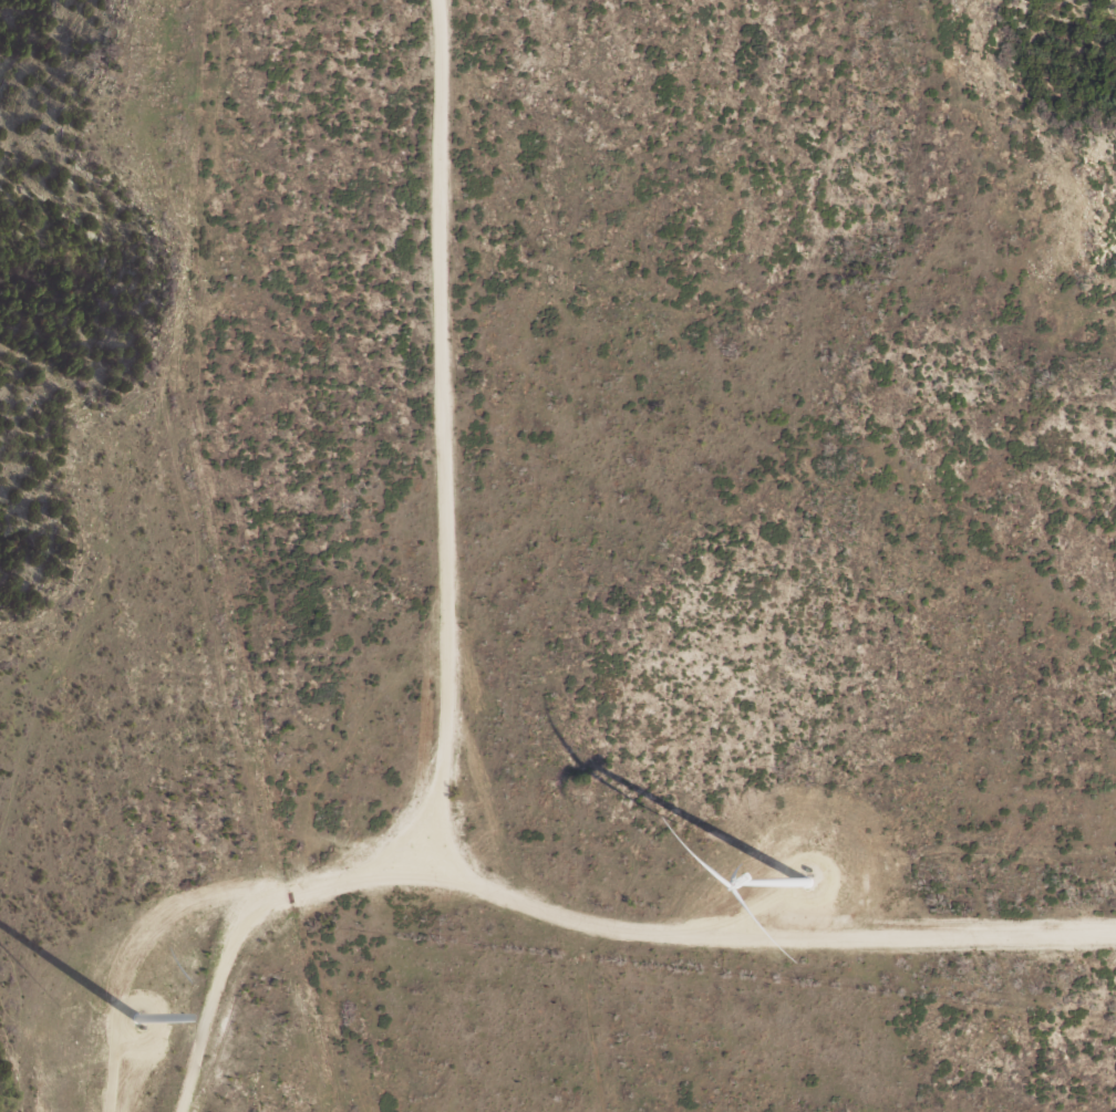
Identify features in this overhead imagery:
wind turbine: (799, 860)
wind turbine: (141, 1025)

